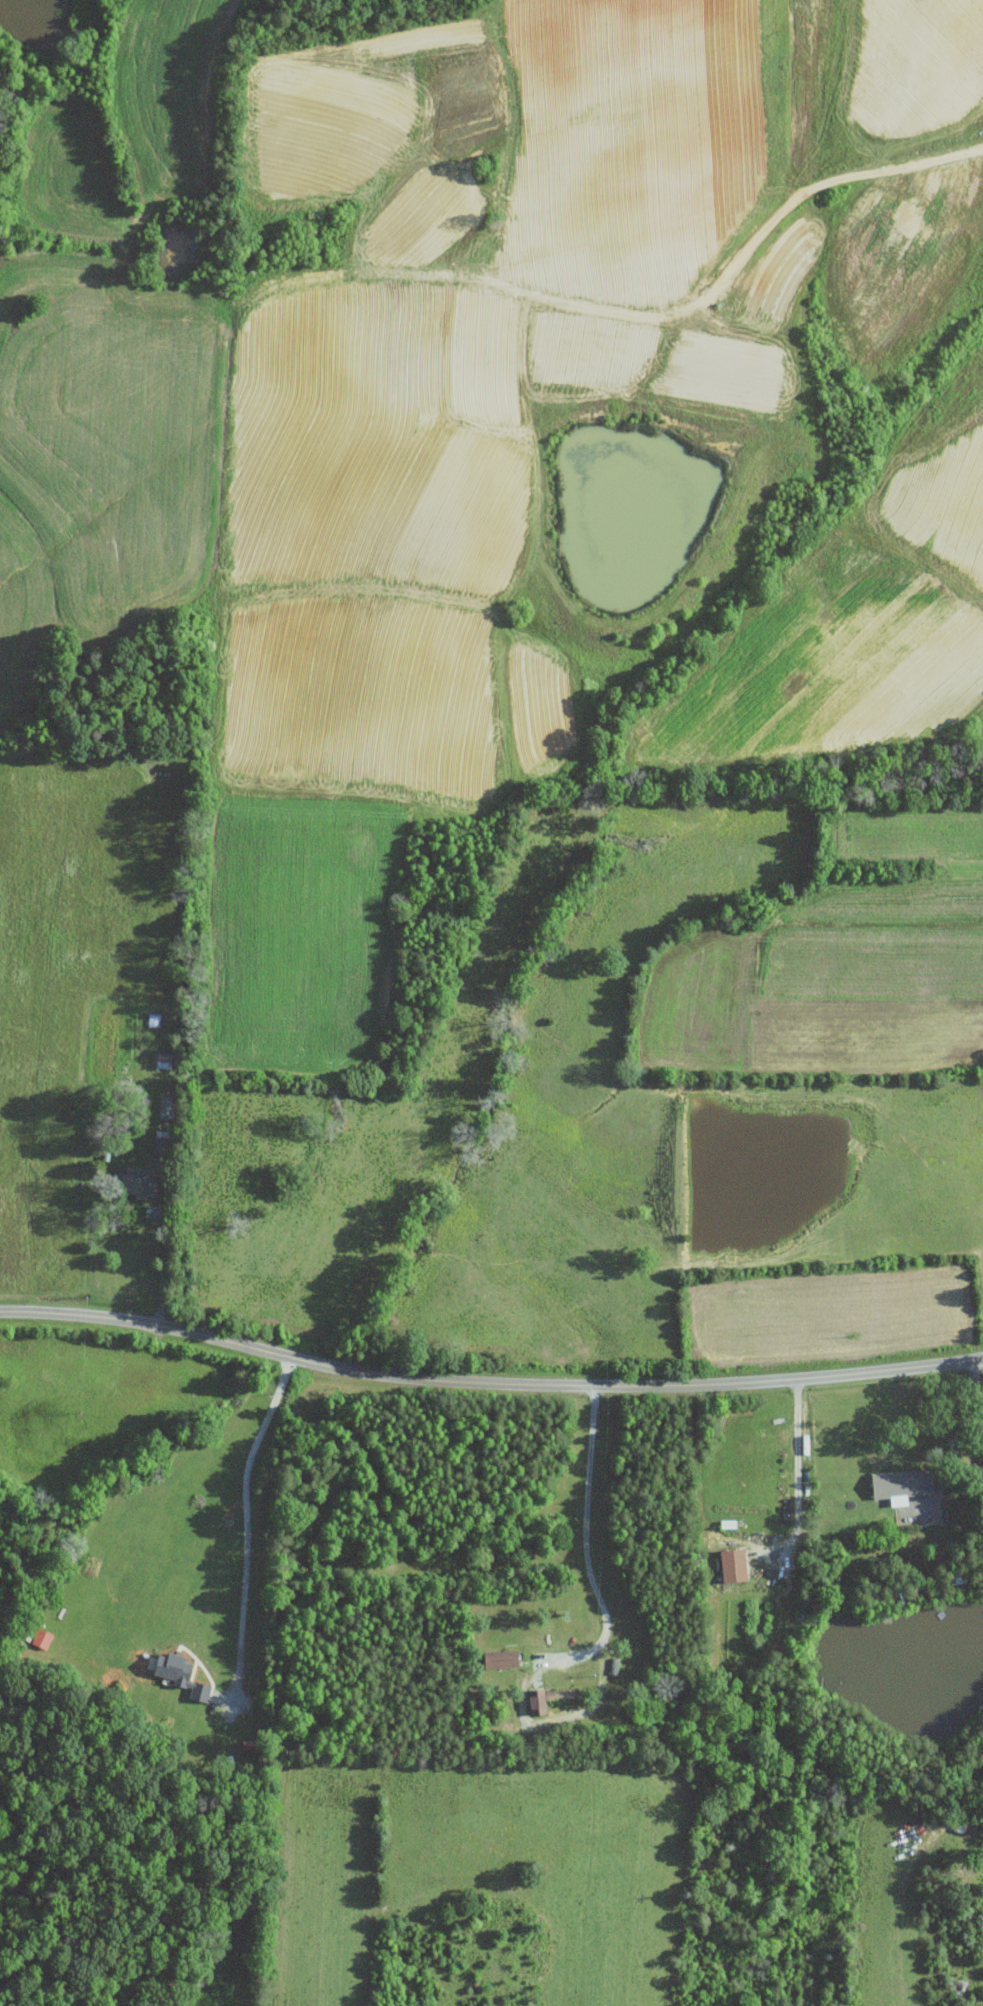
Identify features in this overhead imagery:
building: (154, 1019)
building: (165, 1059)
building: (168, 1106)
building: (164, 1140)
building: (143, 1183)
road: (166, 1251)
road: (488, 1383)
road: (960, 1433)
road: (798, 1466)
building: (905, 1483)
road: (247, 1527)
building: (736, 1565)
road: (601, 1642)
building: (505, 1658)
building: (183, 1674)
building: (549, 1698)

